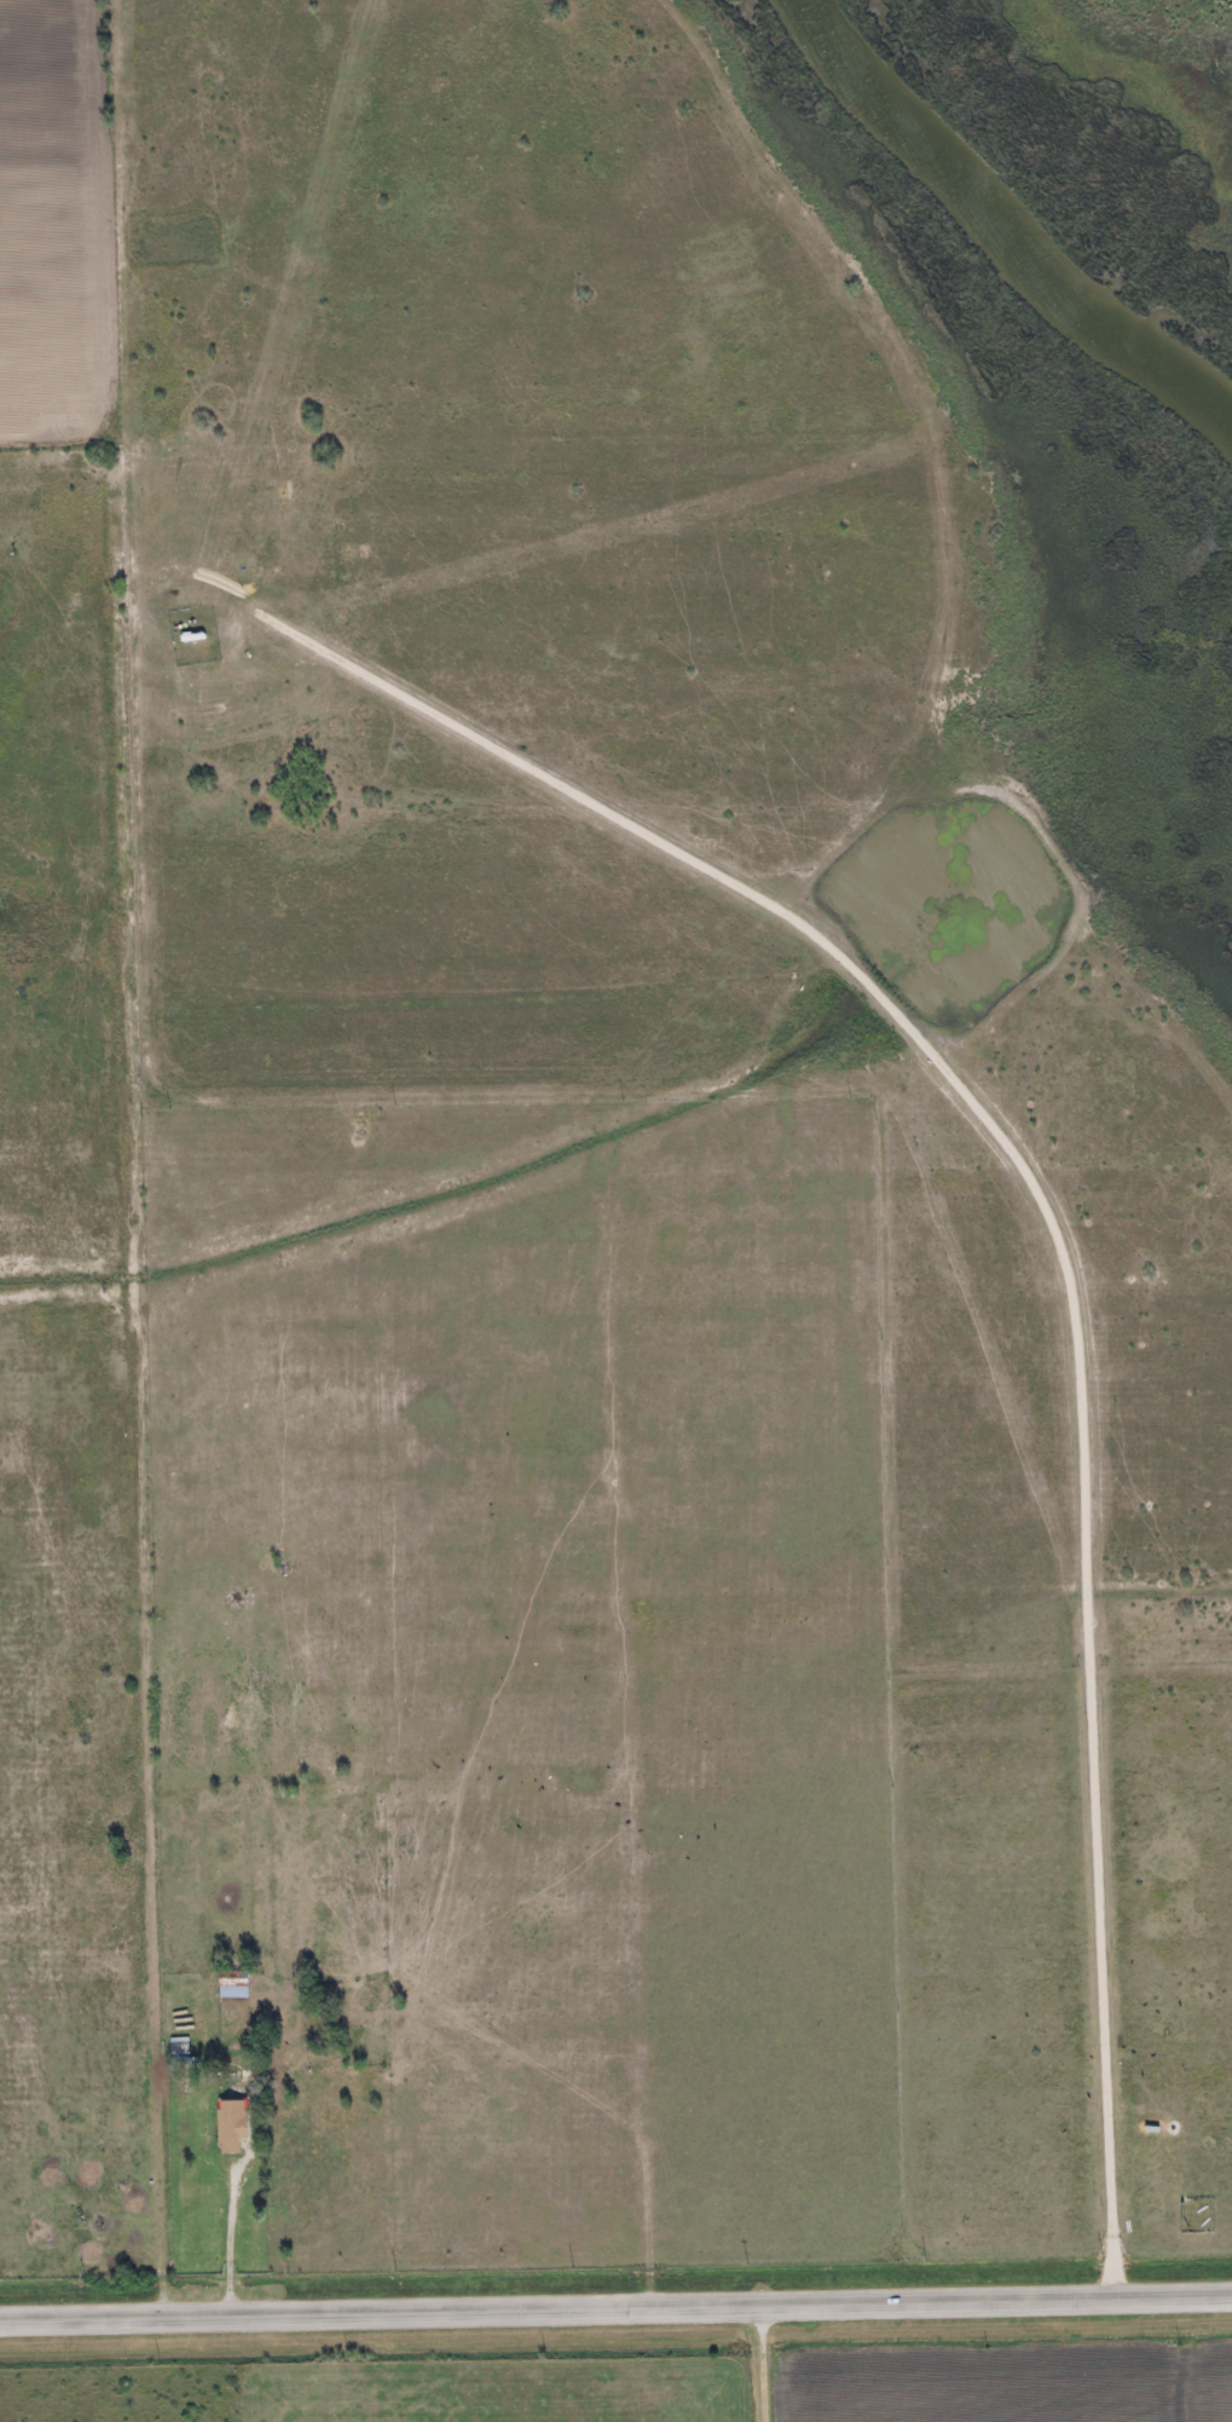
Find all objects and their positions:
building: (232, 2124)
road: (615, 2305)
road: (758, 2362)

